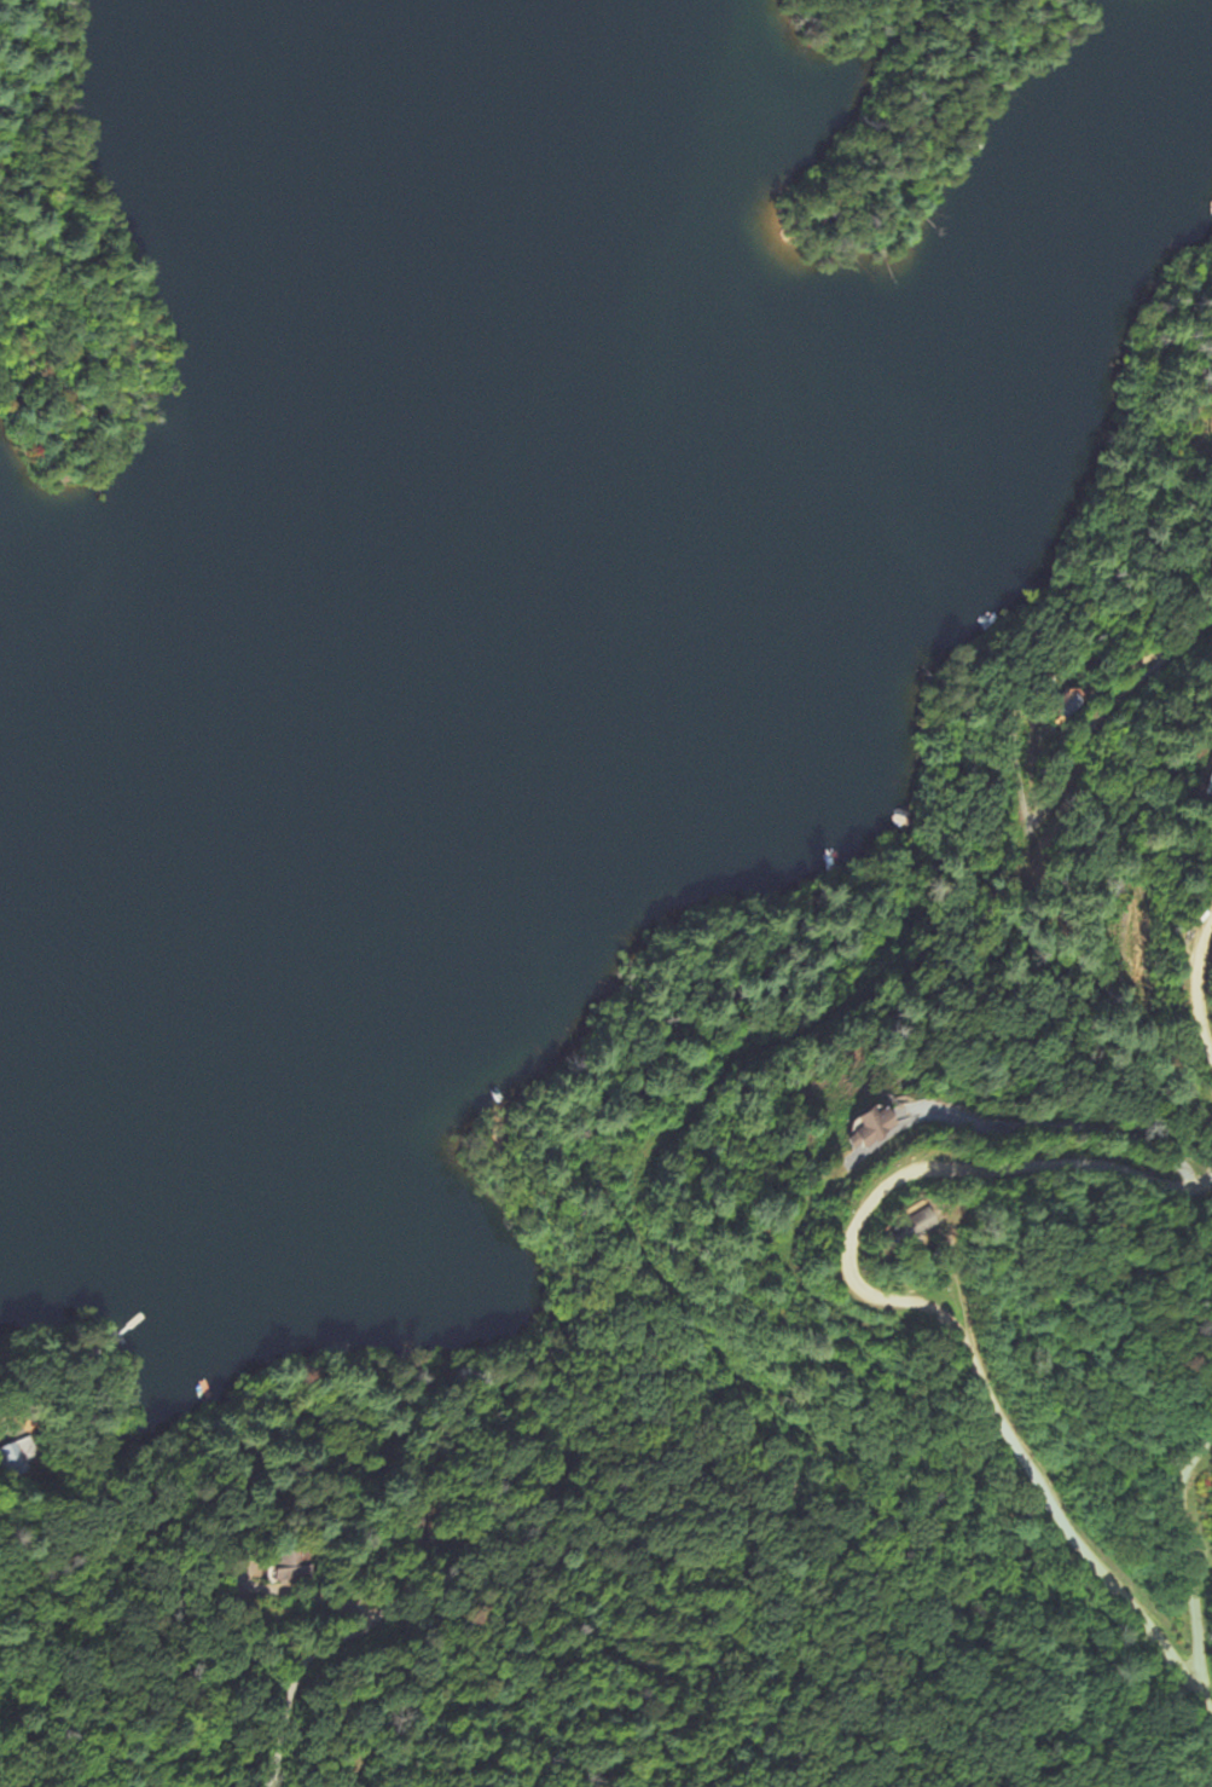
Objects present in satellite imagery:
road: (914, 68)
river: (487, 615)
building: (1068, 706)
building: (1208, 785)
road: (1187, 970)
building: (874, 1128)
building: (924, 1226)
road: (900, 1292)
road: (679, 1375)
building: (16, 1455)
road: (1182, 1540)
road: (343, 1626)

